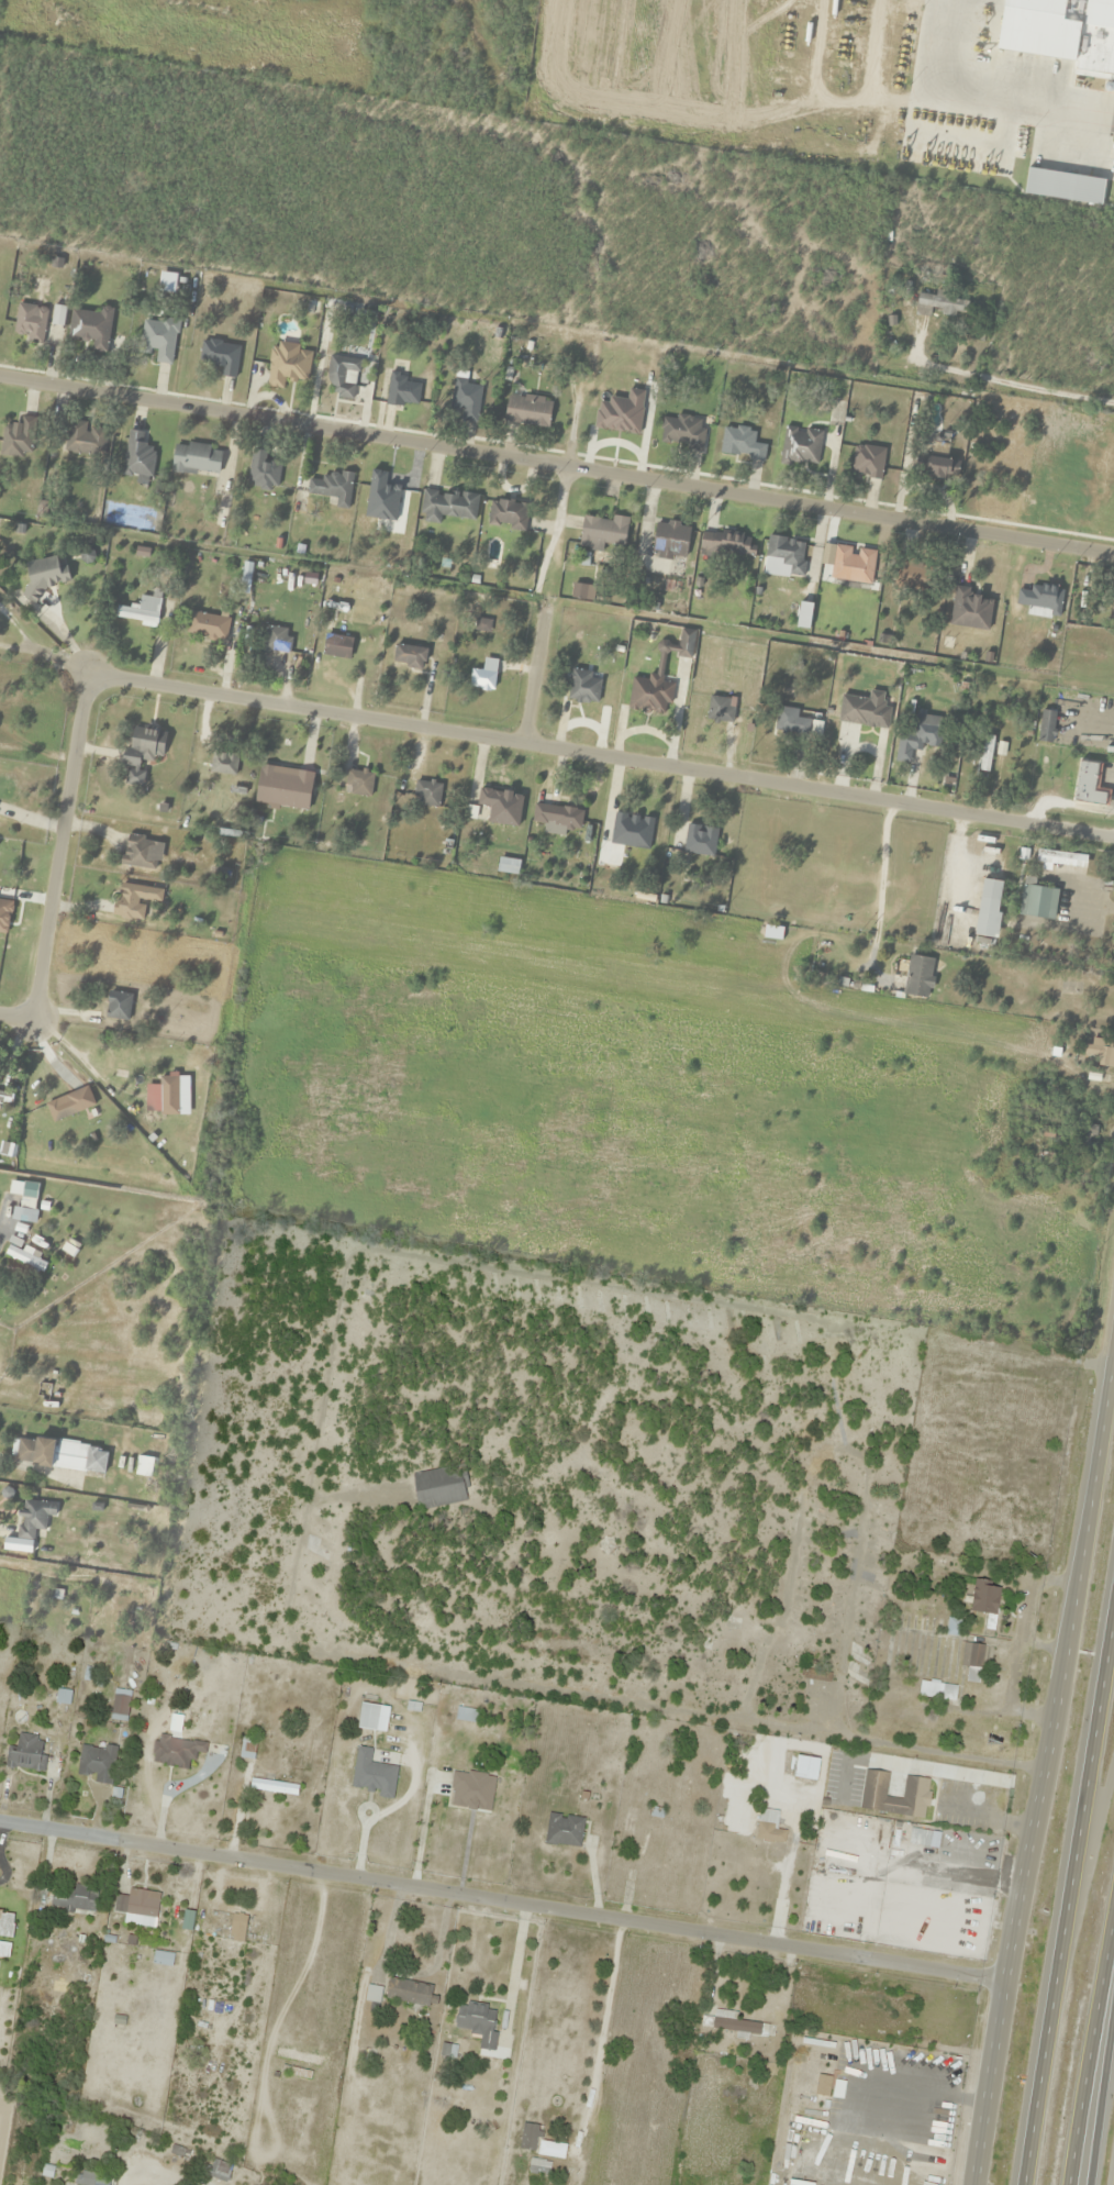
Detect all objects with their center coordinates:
building: (1065, 29)
building: (1013, 66)
building: (1093, 76)
building: (1111, 121)
building: (1068, 188)
building: (939, 306)
building: (58, 315)
building: (30, 322)
building: (91, 328)
building: (158, 339)
building: (220, 356)
building: (287, 365)
building: (342, 377)
building: (401, 390)
building: (466, 399)
building: (527, 411)
building: (681, 432)
building: (18, 439)
building: (85, 440)
building: (738, 443)
building: (800, 446)
road: (557, 457)
building: (137, 458)
building: (196, 459)
building: (867, 461)
building: (939, 468)
building: (261, 473)
building: (332, 488)
building: (446, 506)
building: (506, 514)
building: (602, 532)
building: (670, 541)
building: (727, 545)
building: (787, 554)
building: (851, 565)
building: (912, 575)
building: (42, 578)
building: (26, 592)
building: (1112, 607)
building: (969, 610)
building: (140, 612)
building: (207, 625)
building: (276, 640)
building: (336, 646)
building: (409, 656)
building: (483, 676)
building: (582, 687)
building: (649, 695)
building: (720, 709)
building: (876, 714)
building: (790, 722)
road: (411, 724)
building: (1045, 727)
building: (926, 733)
building: (142, 753)
building: (985, 754)
building: (223, 764)
building: (358, 783)
building: (1088, 785)
building: (282, 788)
building: (426, 792)
building: (499, 807)
building: (556, 818)
building: (631, 831)
building: (699, 841)
building: (138, 853)
building: (1061, 859)
building: (134, 900)
building: (1038, 902)
building: (988, 909)
building: (912, 977)
building: (118, 1006)
building: (1100, 1052)
building: (131, 1082)
building: (5, 1096)
building: (68, 1106)
building: (1047, 1134)
building: (1088, 1138)
building: (24, 1200)
building: (24, 1256)
building: (772, 1330)
building: (60, 1455)
building: (441, 1487)
building: (32, 1519)
building: (985, 1601)
building: (972, 1661)
building: (937, 1690)
building: (120, 1707)
building: (466, 1715)
building: (367, 1724)
building: (247, 1748)
building: (176, 1751)
building: (27, 1752)
road: (1049, 1755)
building: (97, 1762)
building: (374, 1774)
building: (274, 1786)
building: (916, 1788)
building: (471, 1789)
building: (564, 1830)
building: (758, 1862)
road: (1067, 1887)
building: (74, 1898)
building: (137, 1904)
road: (502, 1904)
building: (7, 1927)
building: (237, 1928)
building: (163, 1959)
building: (411, 1993)
building: (372, 1994)
building: (478, 2023)
building: (735, 2023)
building: (298, 2056)
road: (1090, 2058)
building: (887, 2062)
road: (1101, 2082)
building: (538, 2142)
building: (220, 2170)
building: (91, 2178)

